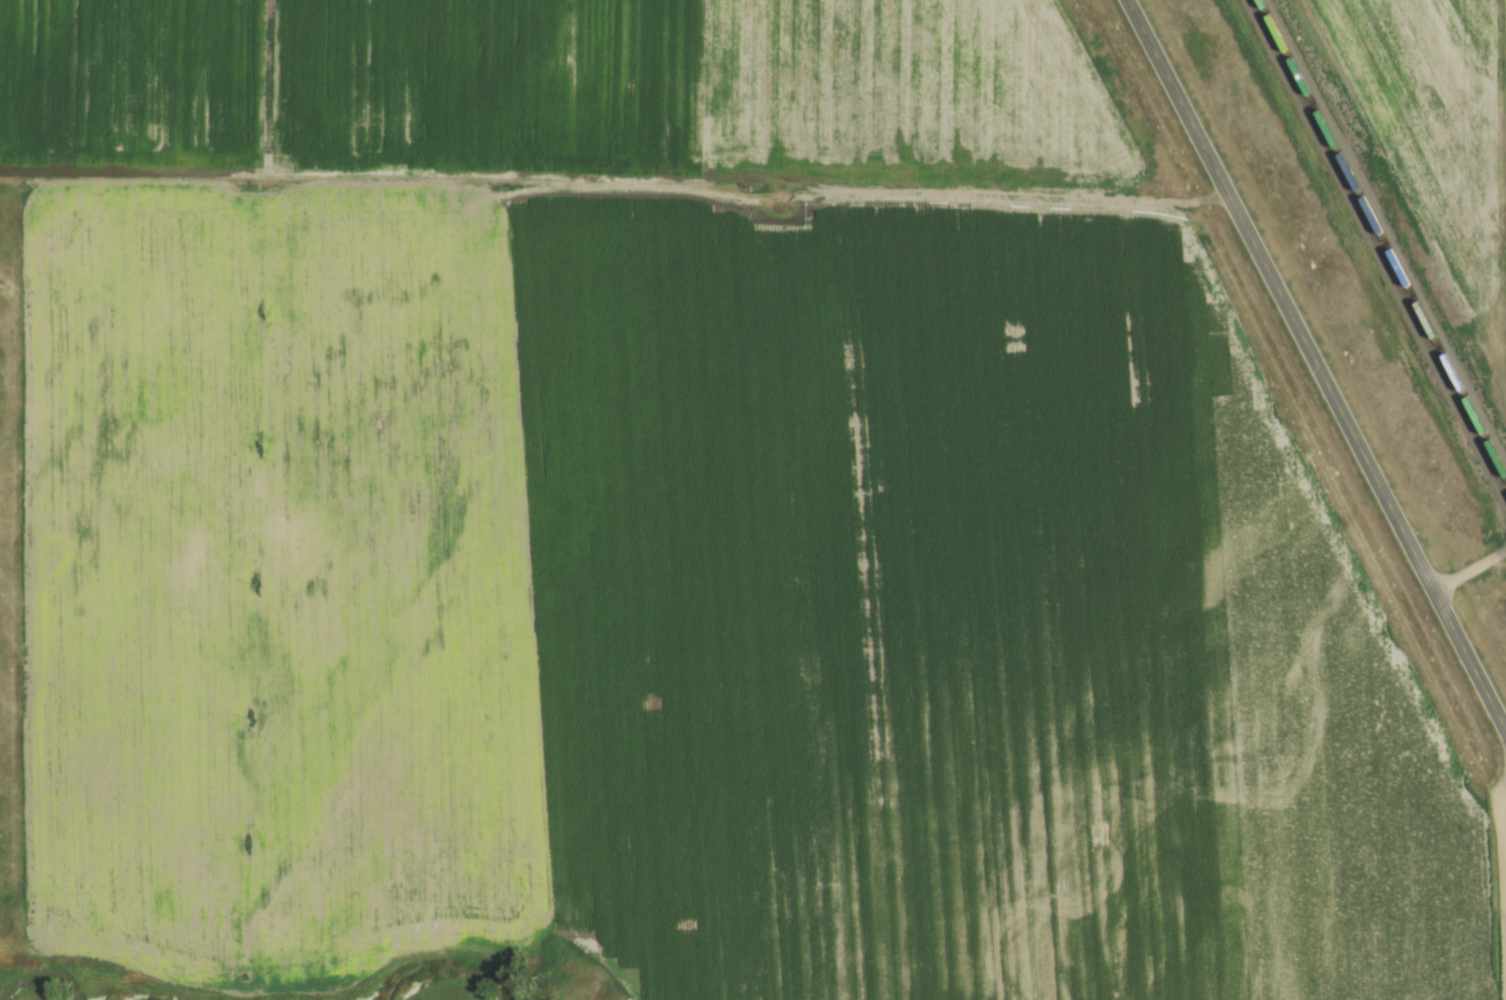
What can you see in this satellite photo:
crop: (572, 90)
crop: (1437, 119)
railway: (1384, 237)
railway: (1378, 246)
road: (1318, 364)
road: (1470, 570)
crop: (704, 606)

